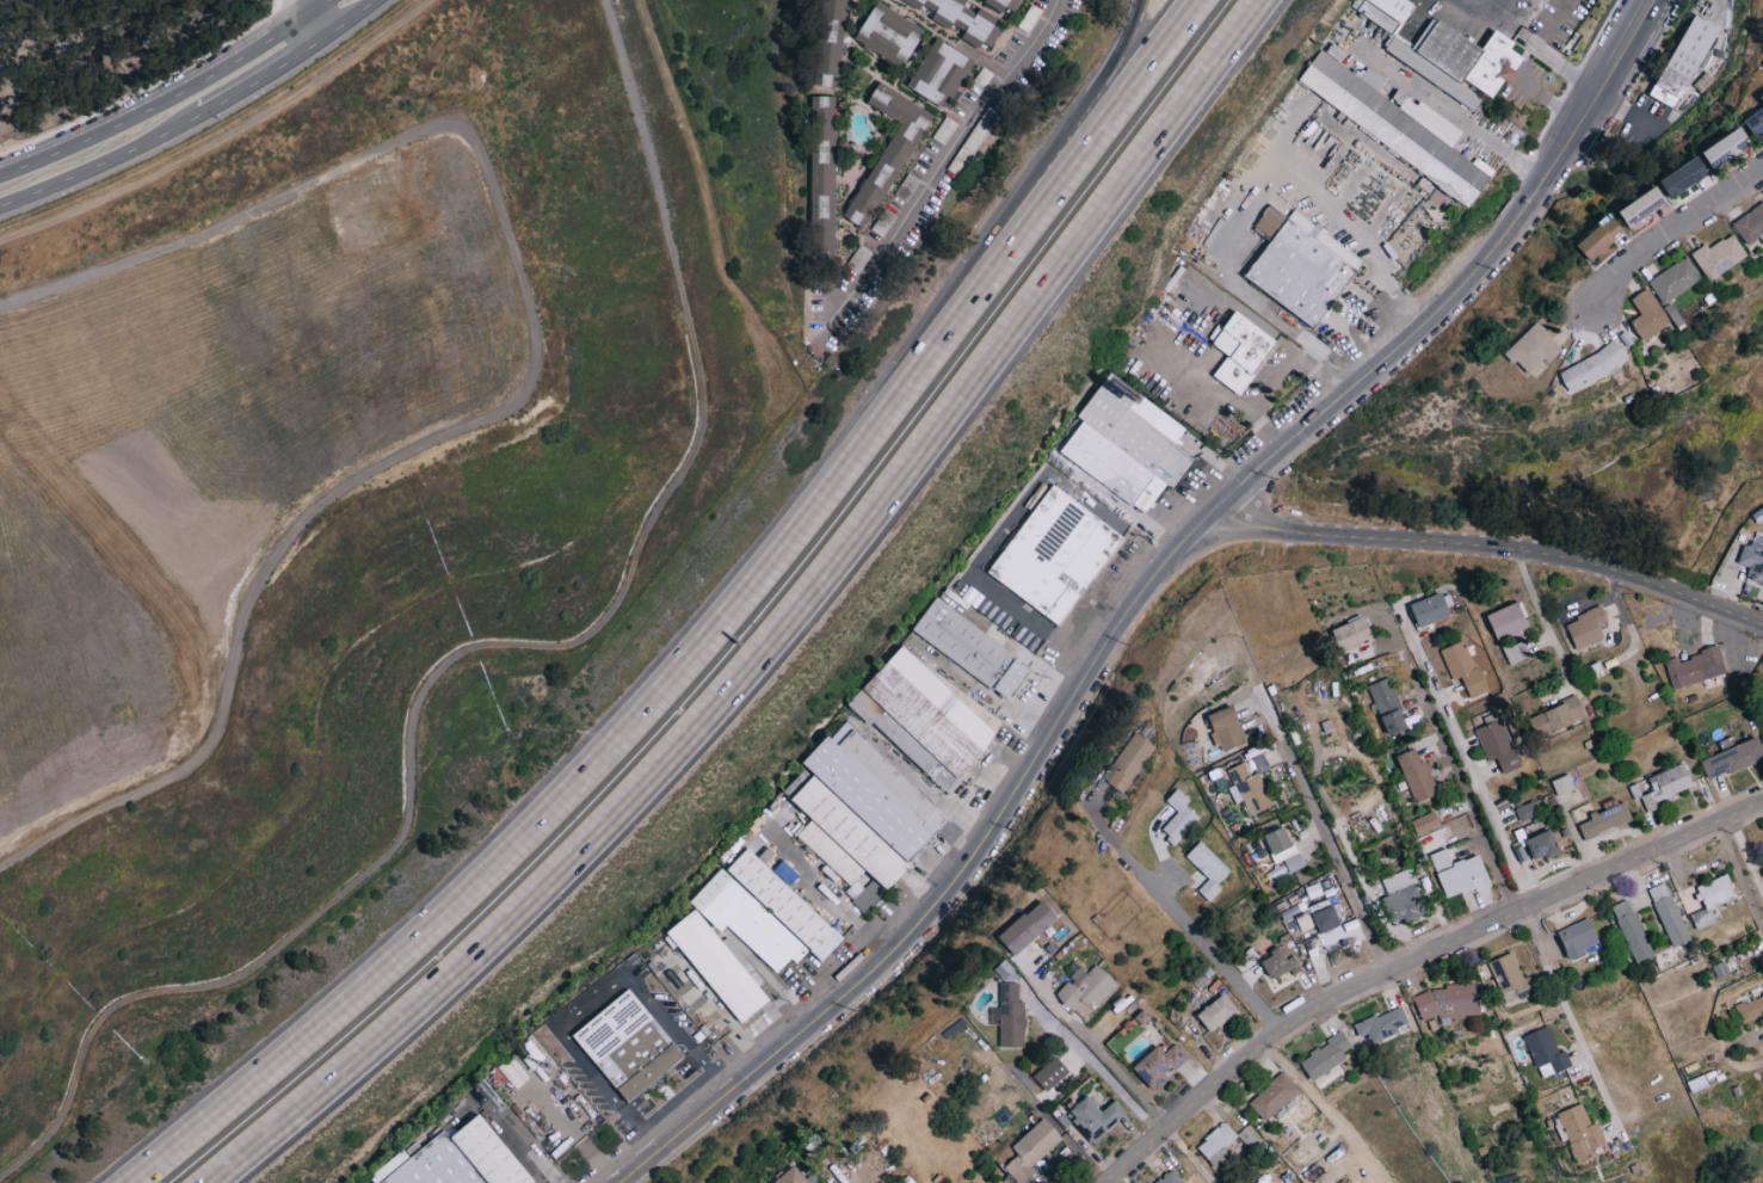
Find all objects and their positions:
building: (1004, 4)
road: (301, 6)
road: (313, 6)
road: (1488, 16)
road: (349, 19)
building: (963, 19)
road: (314, 25)
road: (56, 30)
road: (1626, 31)
building: (892, 35)
building: (831, 43)
road: (1539, 51)
park: (97, 53)
building: (1448, 54)
building: (1691, 63)
building: (941, 74)
road: (263, 76)
road: (1545, 95)
building: (1761, 95)
road: (159, 104)
road: (1626, 110)
road: (1080, 123)
building: (1756, 123)
road: (1471, 125)
building: (1398, 127)
building: (1726, 148)
building: (889, 153)
road: (101, 165)
building: (824, 177)
building: (1684, 178)
road: (930, 184)
building: (1642, 207)
road: (1330, 211)
road: (1669, 223)
building: (1751, 224)
building: (1601, 241)
building: (1720, 257)
building: (1302, 265)
building: (1675, 281)
road: (1247, 285)
building: (1648, 314)
building: (1533, 349)
building: (1243, 350)
building: (1594, 365)
road: (1275, 372)
building: (1127, 445)
road: (1487, 547)
building: (1056, 554)
building: (1753, 559)
building: (1430, 609)
road: (1541, 618)
building: (1509, 621)
road: (779, 627)
building: (1586, 627)
road: (1121, 628)
road: (709, 633)
building: (1354, 633)
building: (972, 648)
building: (1516, 652)
building: (1463, 666)
building: (1695, 667)
building: (1388, 706)
building: (1559, 716)
building: (925, 719)
building: (1227, 728)
building: (1496, 740)
building: (1733, 758)
building: (1128, 762)
building: (1417, 775)
road: (1474, 775)
building: (1668, 785)
building: (1566, 788)
building: (1249, 789)
building: (859, 817)
building: (1179, 817)
road: (1319, 819)
building: (1425, 822)
building: (1283, 849)
road: (1745, 856)
road: (1755, 862)
building: (1208, 869)
building: (1459, 874)
road: (1739, 875)
building: (1398, 880)
building: (1713, 899)
building: (1407, 902)
building: (787, 904)
building: (1669, 914)
building: (746, 919)
road: (1182, 922)
building: (1028, 926)
building: (1632, 931)
building: (1579, 938)
road: (1413, 961)
building: (1280, 963)
building: (719, 966)
building: (1510, 978)
building: (1086, 990)
road: (586, 1002)
building: (1448, 1003)
building: (1751, 1008)
building: (1218, 1012)
building: (1010, 1016)
road: (1571, 1021)
building: (1383, 1024)
building: (631, 1047)
road: (1102, 1053)
building: (1546, 1053)
building: (1327, 1056)
building: (1159, 1065)
road: (1736, 1067)
building: (1050, 1073)
building: (1274, 1096)
building: (1096, 1116)
building: (1580, 1133)
building: (1218, 1145)
building: (1031, 1148)
road: (1189, 1156)
building: (457, 1159)
building: (794, 1177)
building: (1170, 1178)

